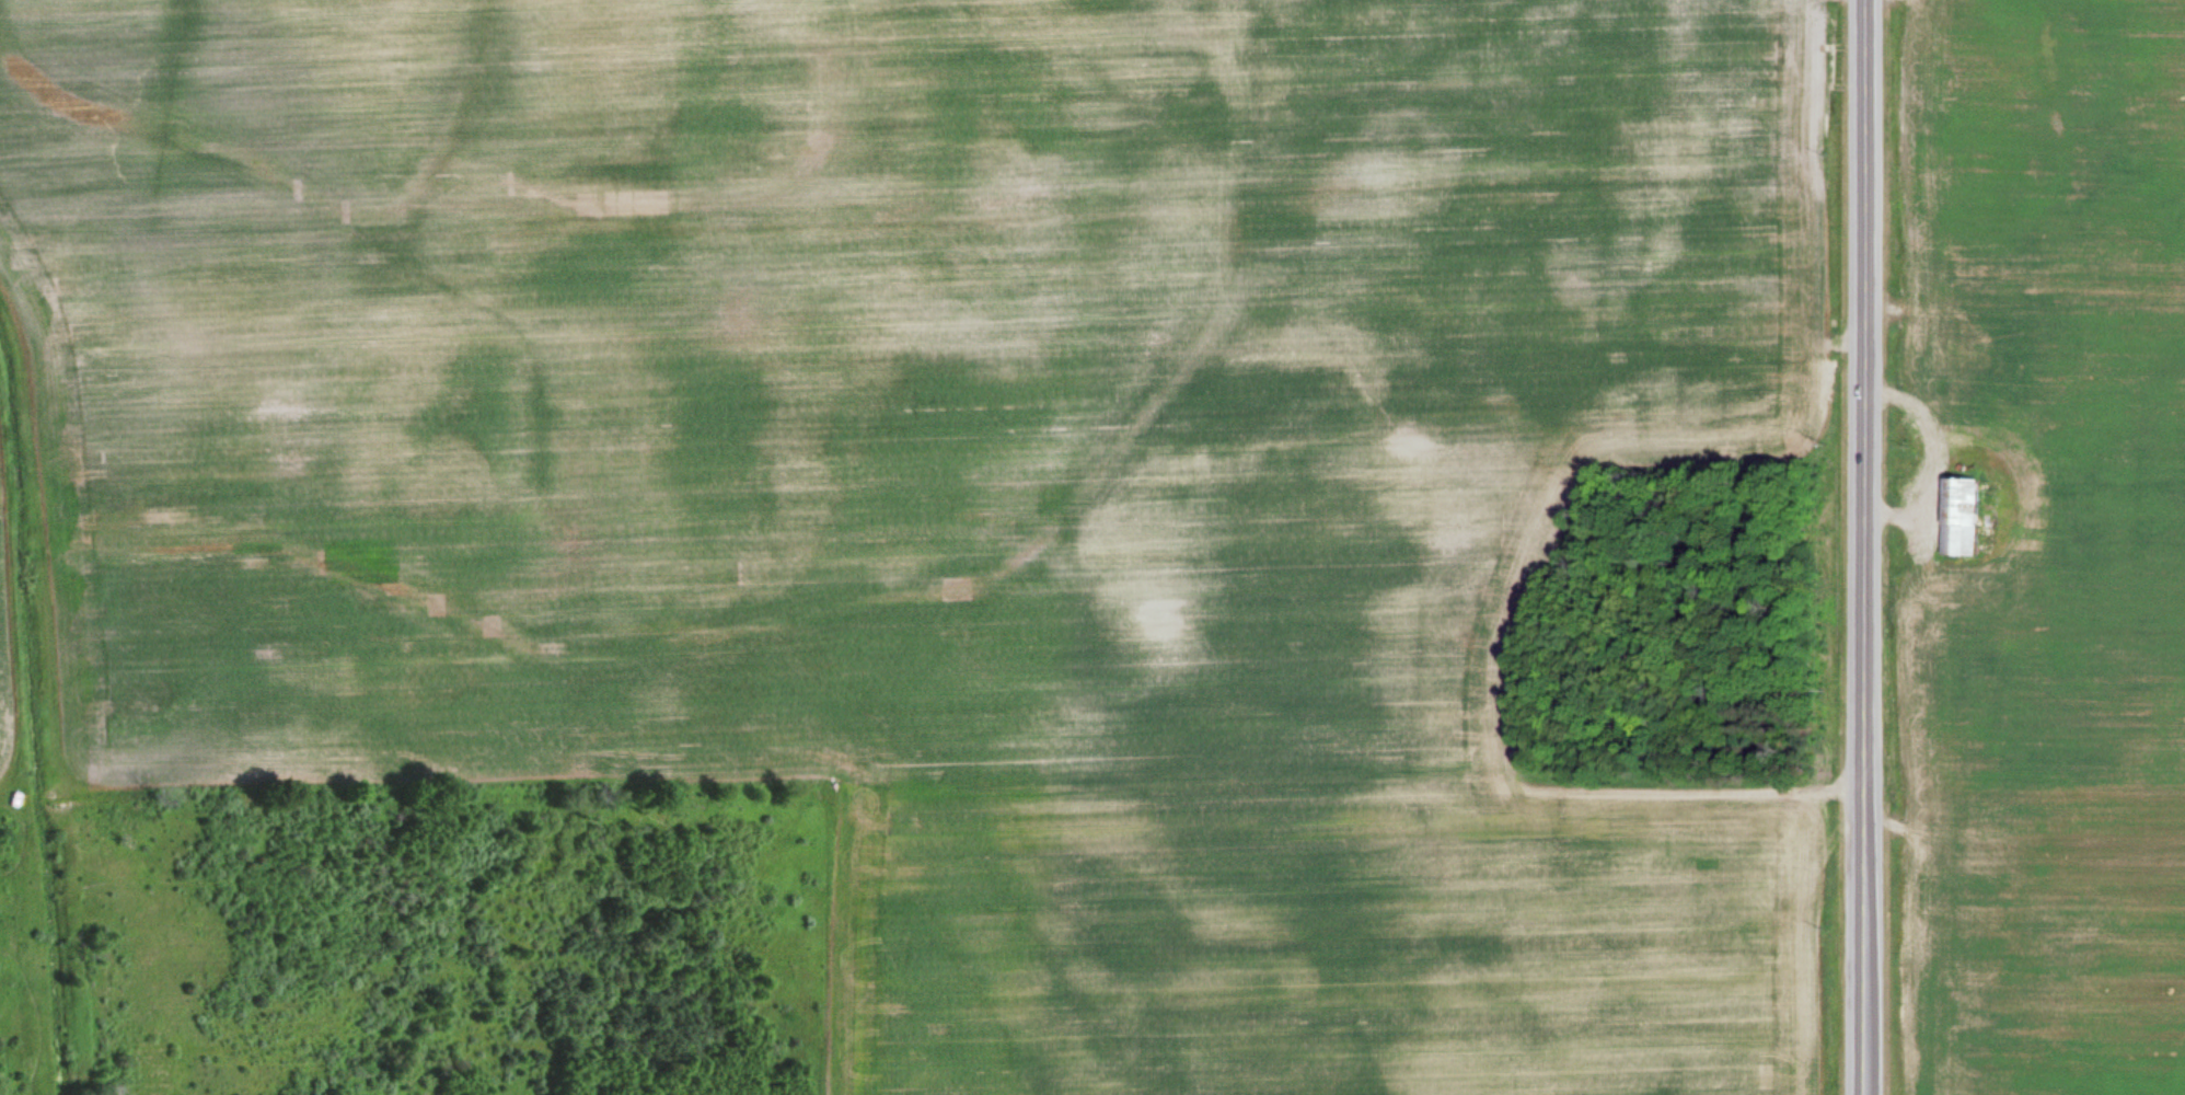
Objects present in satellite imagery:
building: (1949, 364)
building: (1955, 516)
road: (1863, 547)

